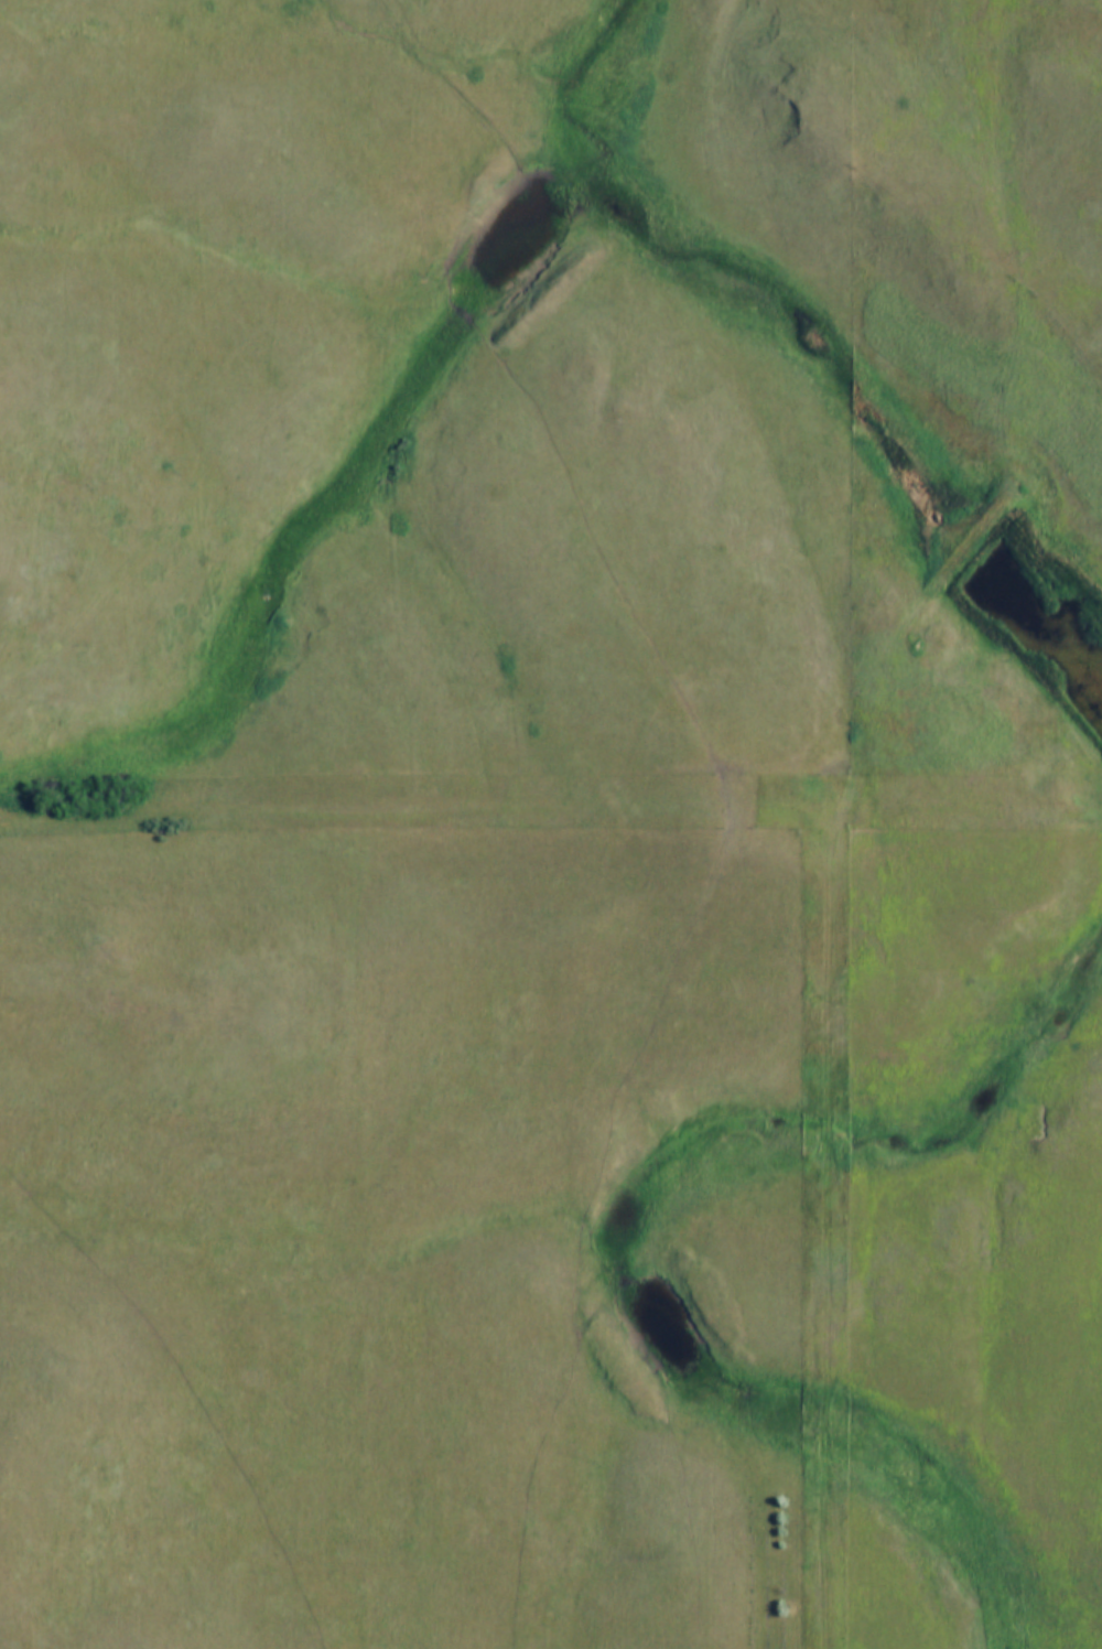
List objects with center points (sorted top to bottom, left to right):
road: (899, 381)
dam: (946, 545)
road: (393, 811)
road: (839, 1235)

